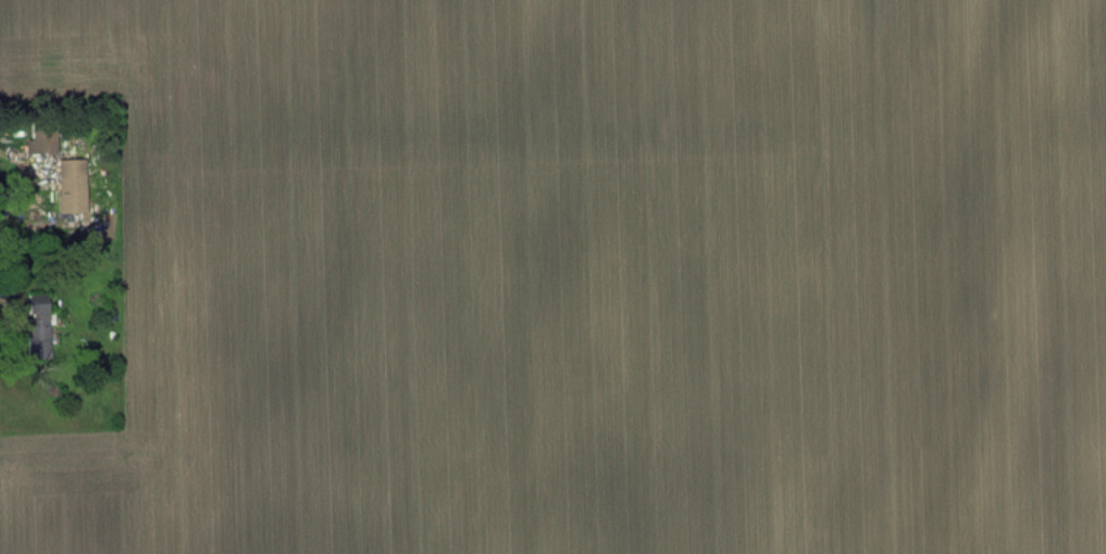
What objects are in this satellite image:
building: (41, 140)
building: (71, 173)
building: (38, 325)

